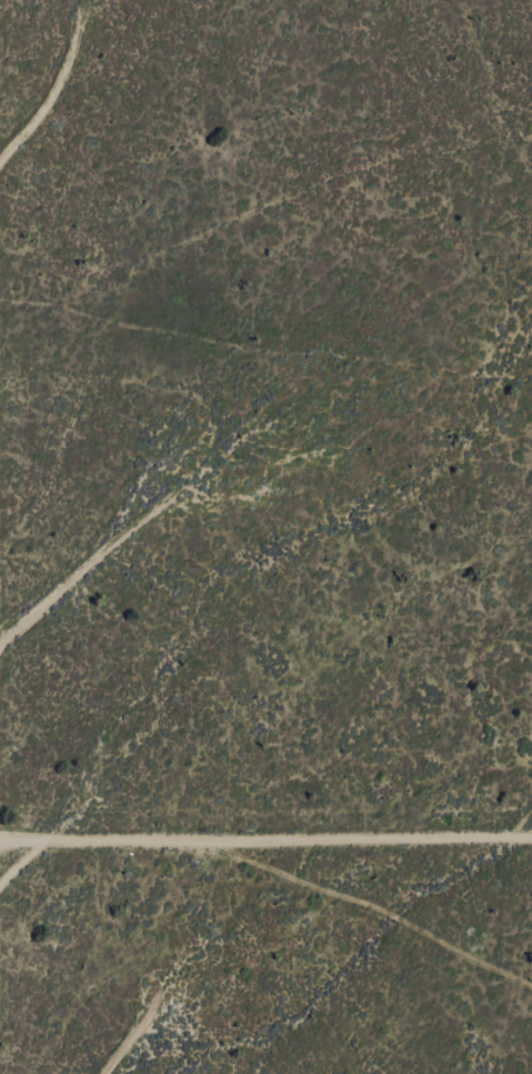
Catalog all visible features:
road: (265, 837)

